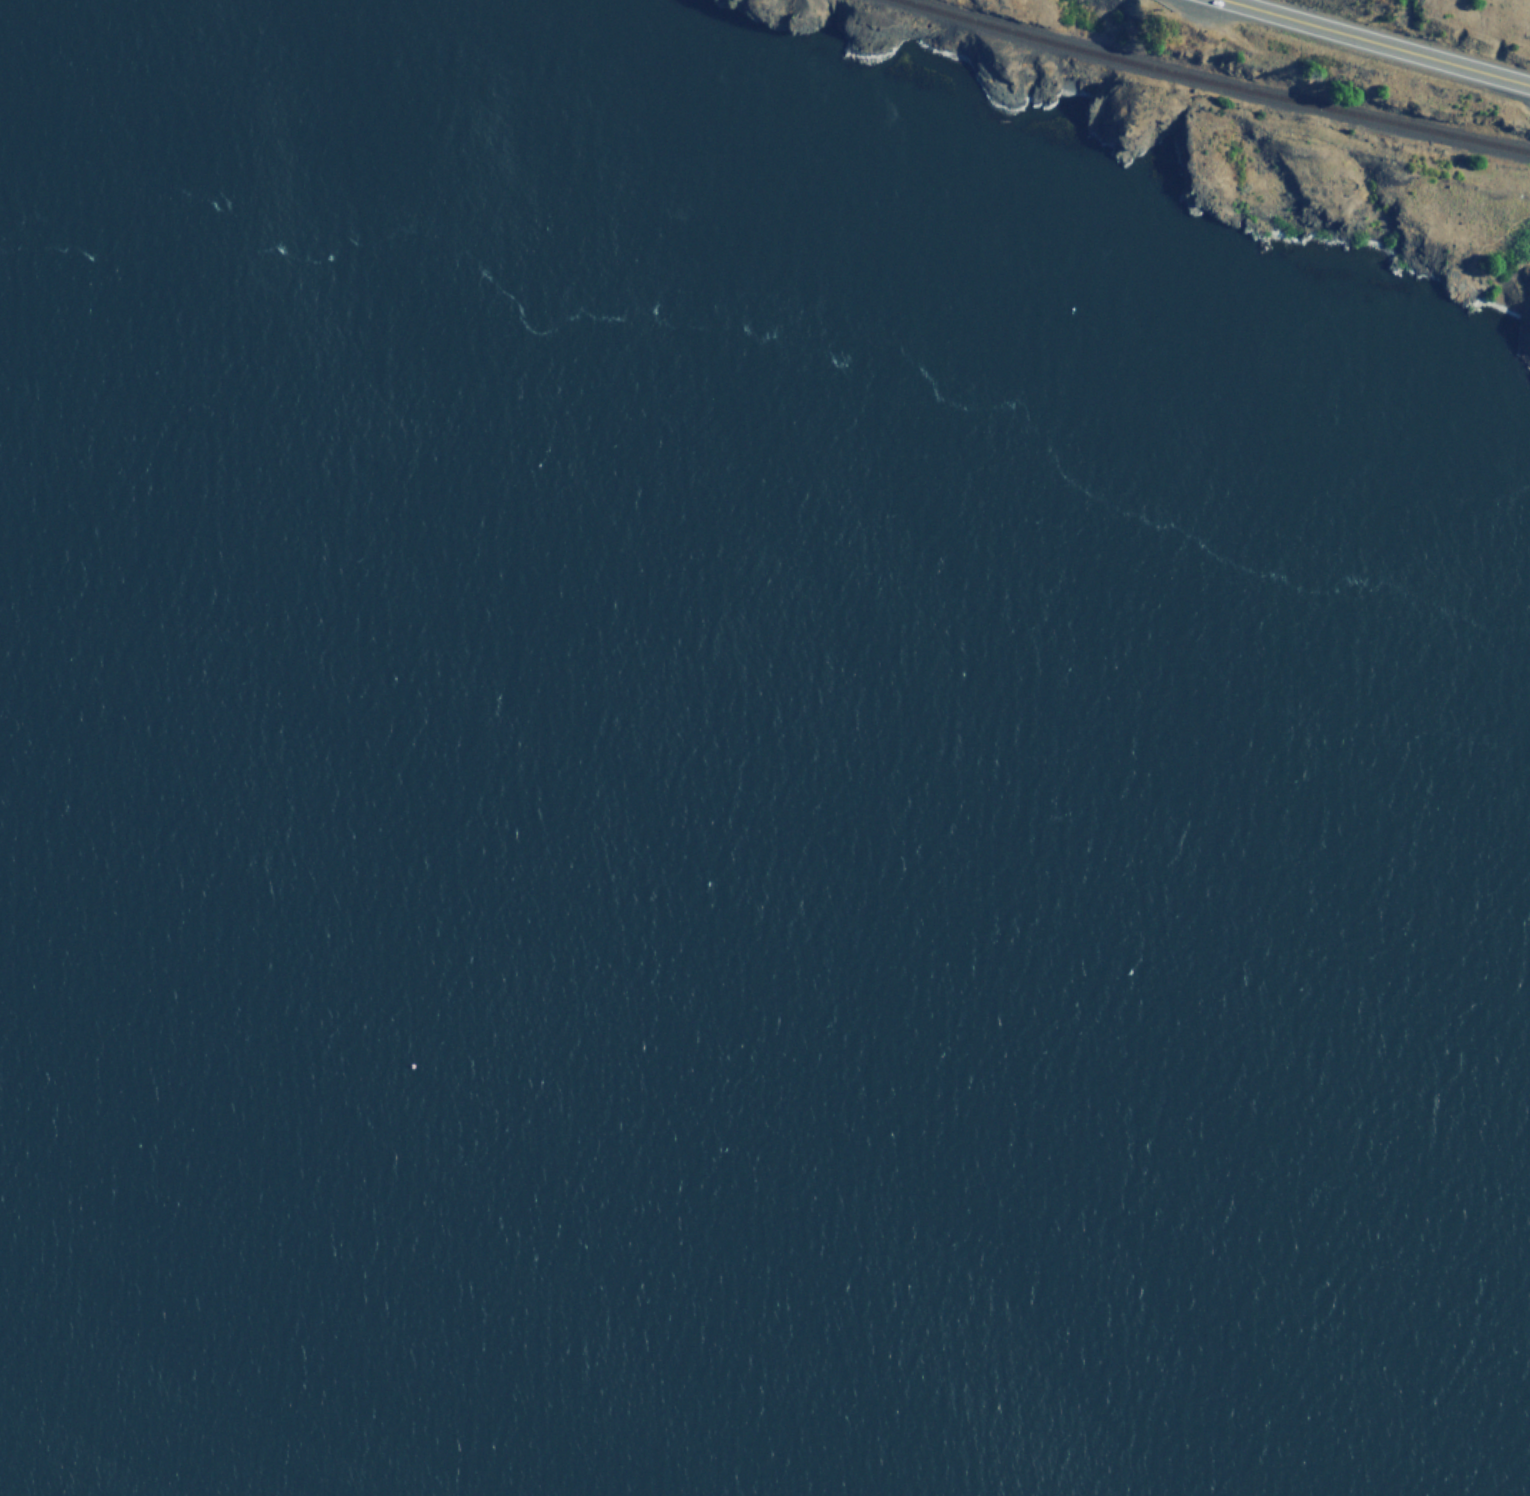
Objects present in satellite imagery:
road: (1385, 40)
railway: (1221, 82)
river: (765, 833)

